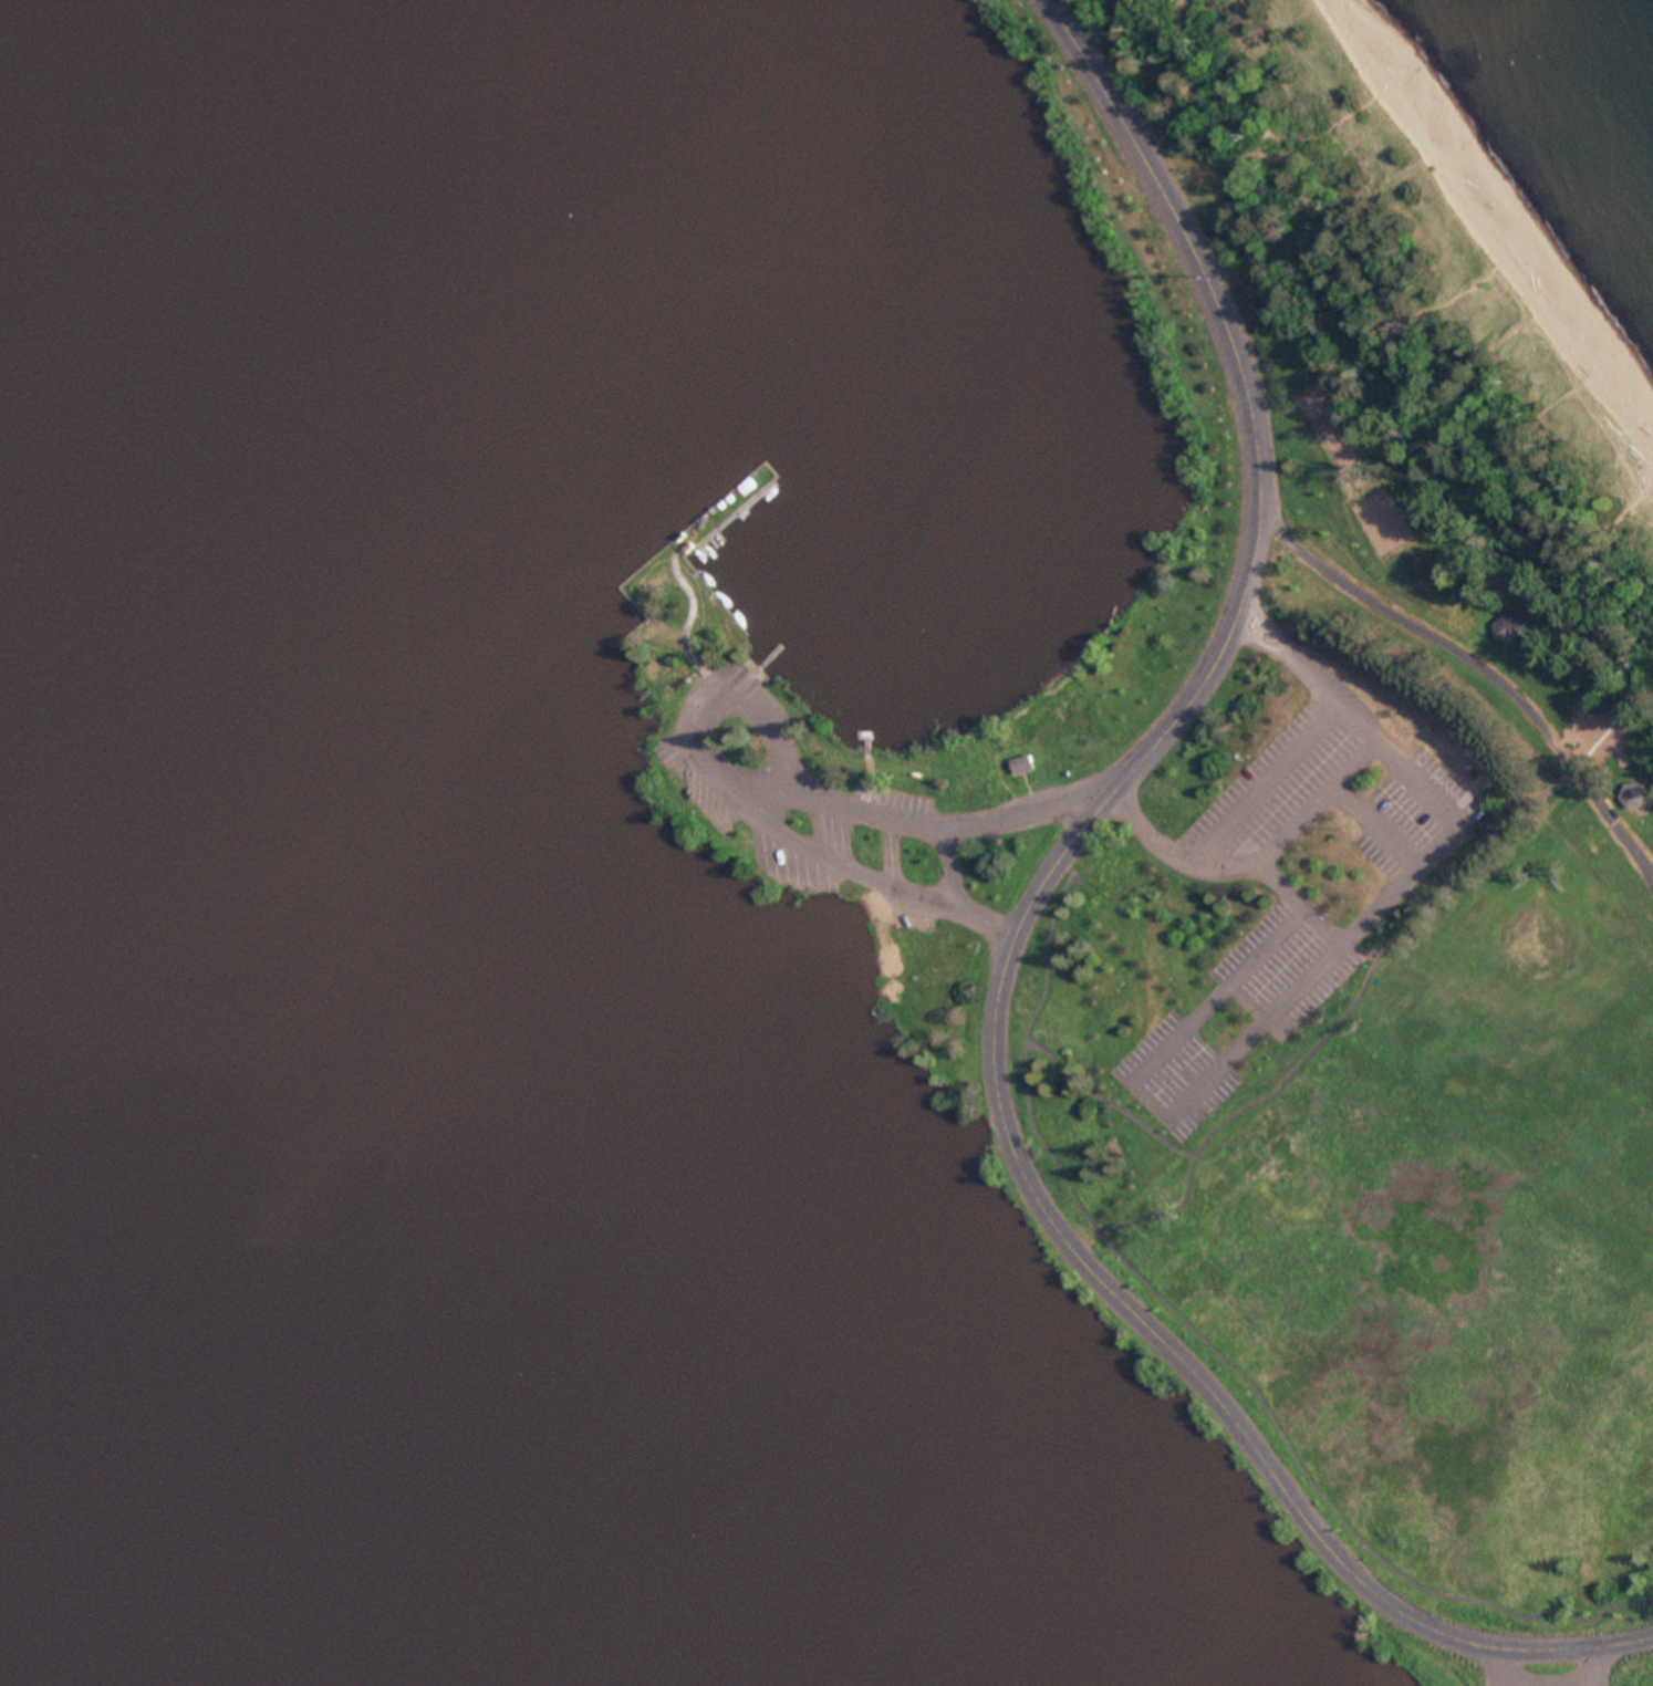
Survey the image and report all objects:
road: (1474, 674)
road: (736, 695)
building: (1018, 760)
road: (1258, 778)
parking lot: (695, 781)
parking lot: (1272, 788)
building: (1635, 793)
parking lot: (893, 794)
road: (771, 795)
road: (1310, 797)
parking lot: (1408, 815)
road: (1371, 821)
parking lot: (859, 841)
parking lot: (797, 865)
road: (943, 866)
road: (1650, 876)
road: (1396, 881)
road: (1650, 885)
parking lot: (902, 912)
building: (912, 913)
road: (1004, 948)
parking lot: (1276, 967)
parking lot: (1172, 1072)
road: (1144, 1101)
parking lot: (1547, 1672)
road: (1538, 1682)

